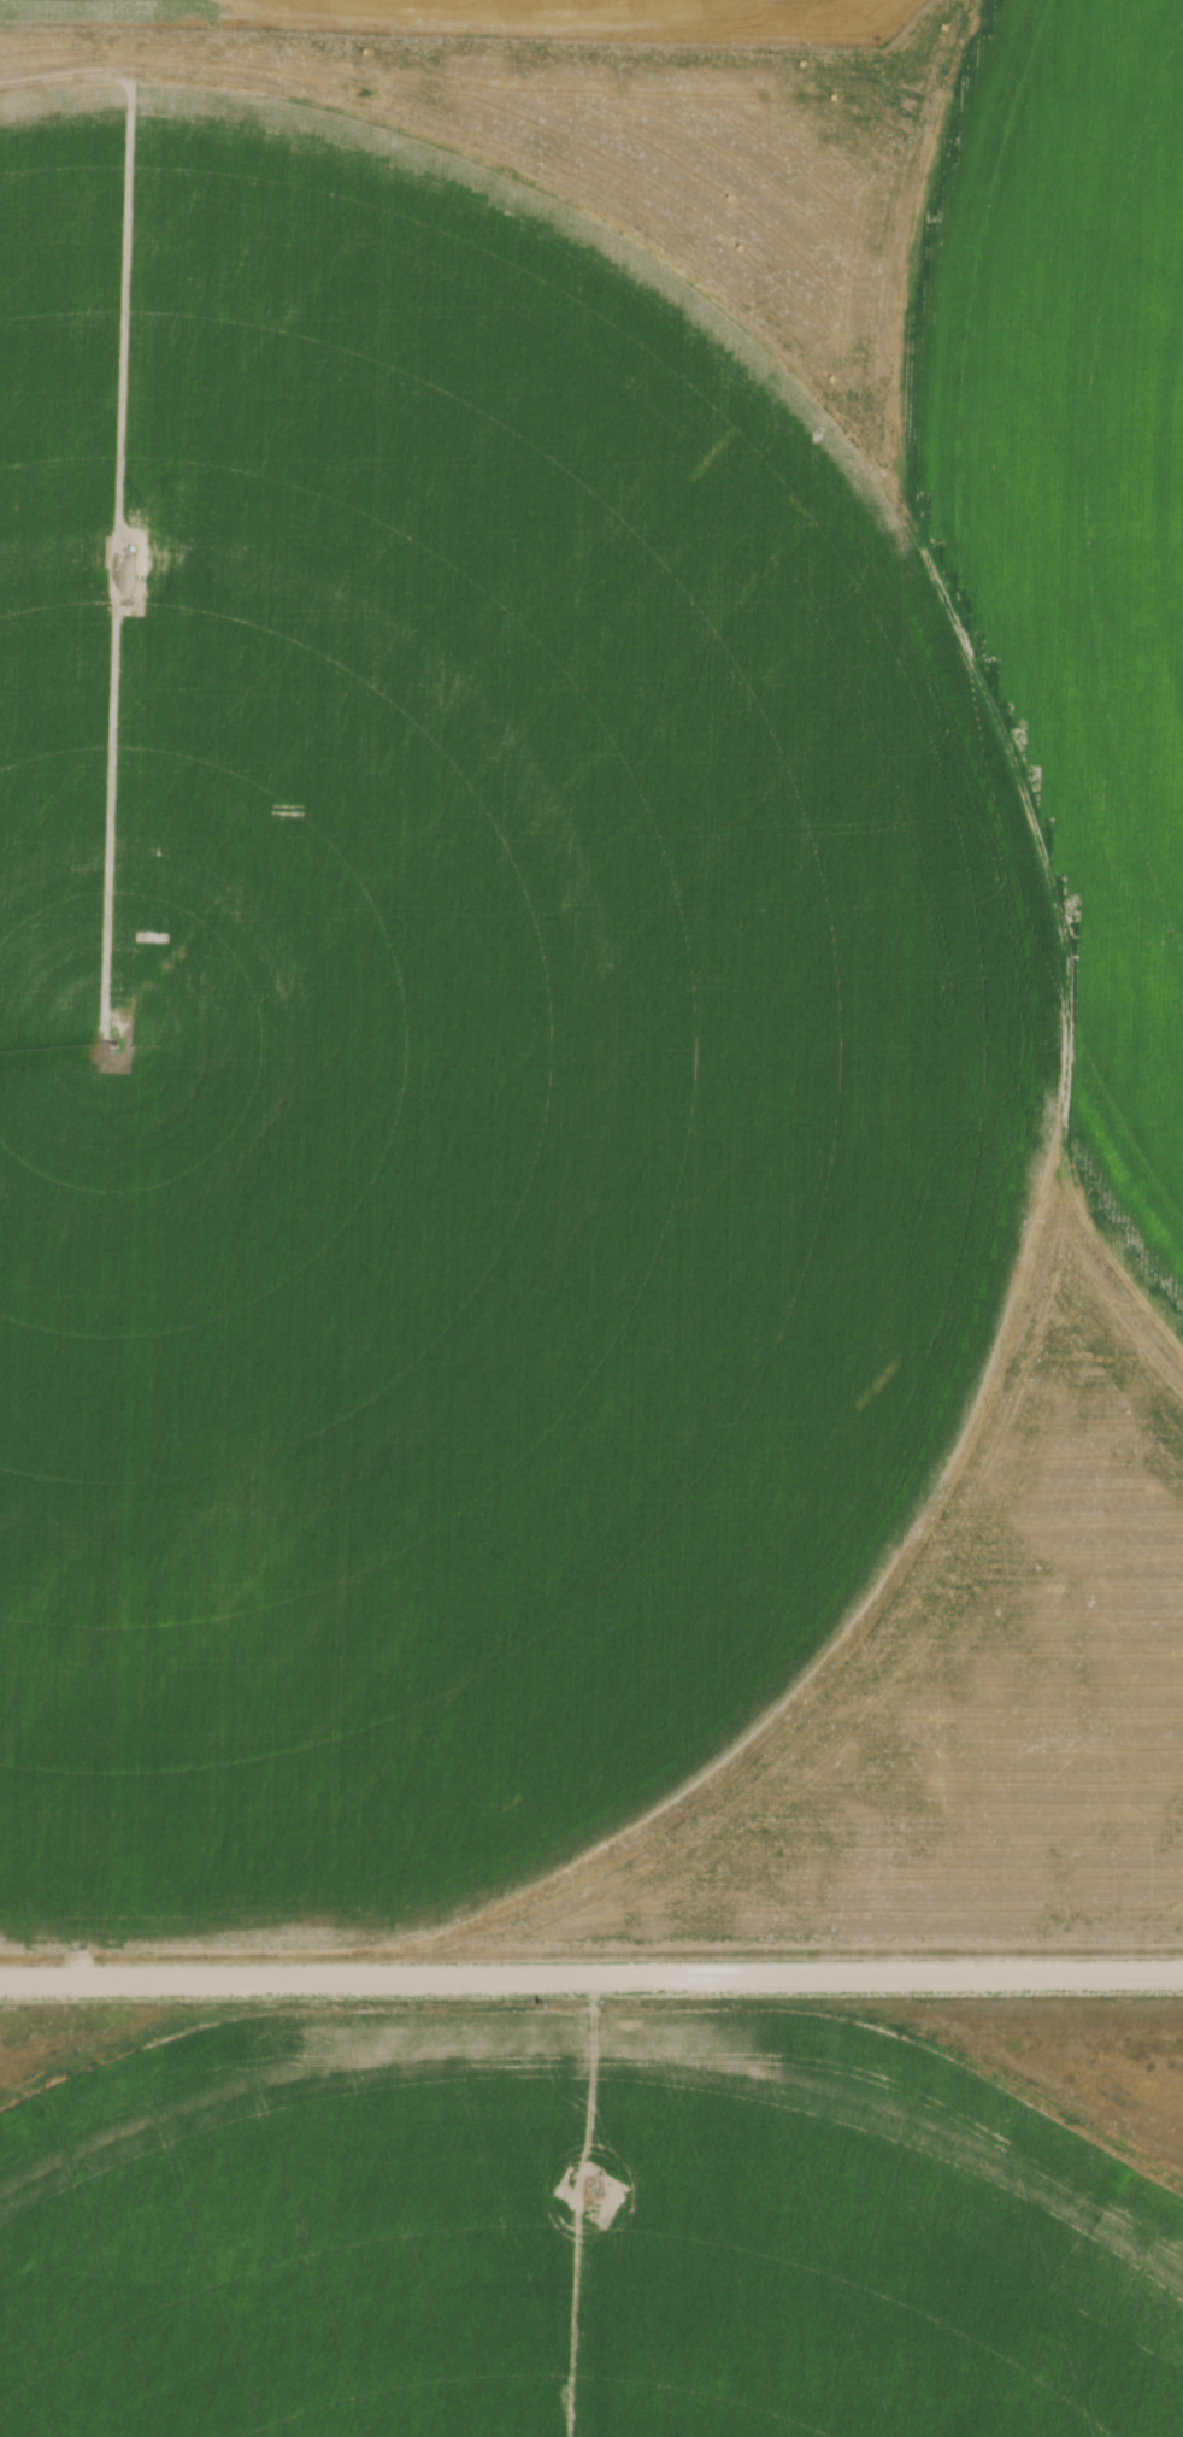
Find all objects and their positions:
building: (890, 199)
road: (591, 1974)

